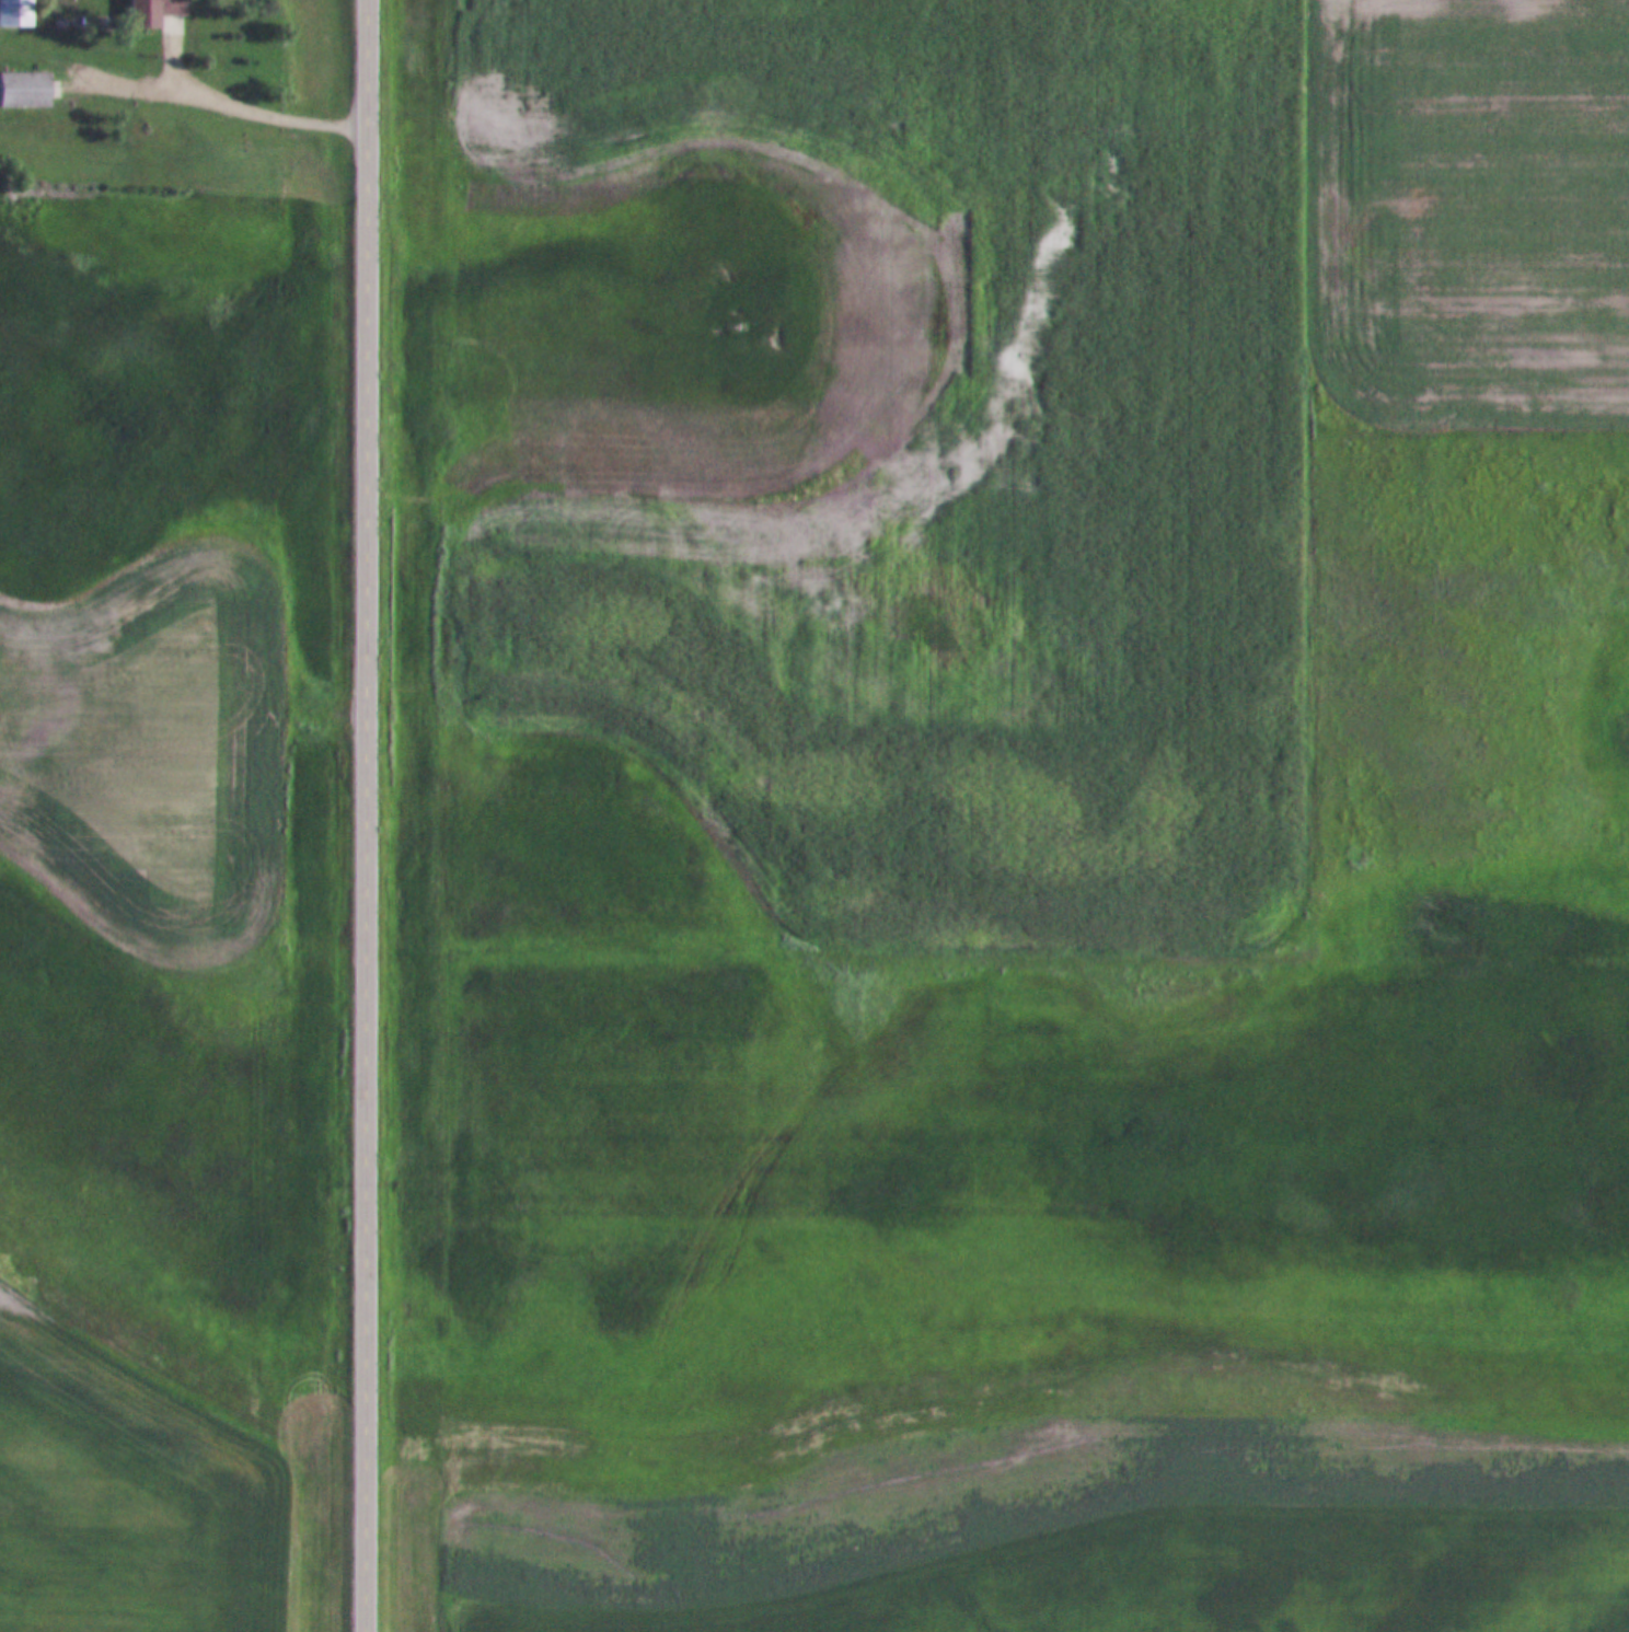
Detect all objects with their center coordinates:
building: (147, 12)
building: (12, 13)
building: (23, 90)
road: (215, 100)
road: (366, 815)

